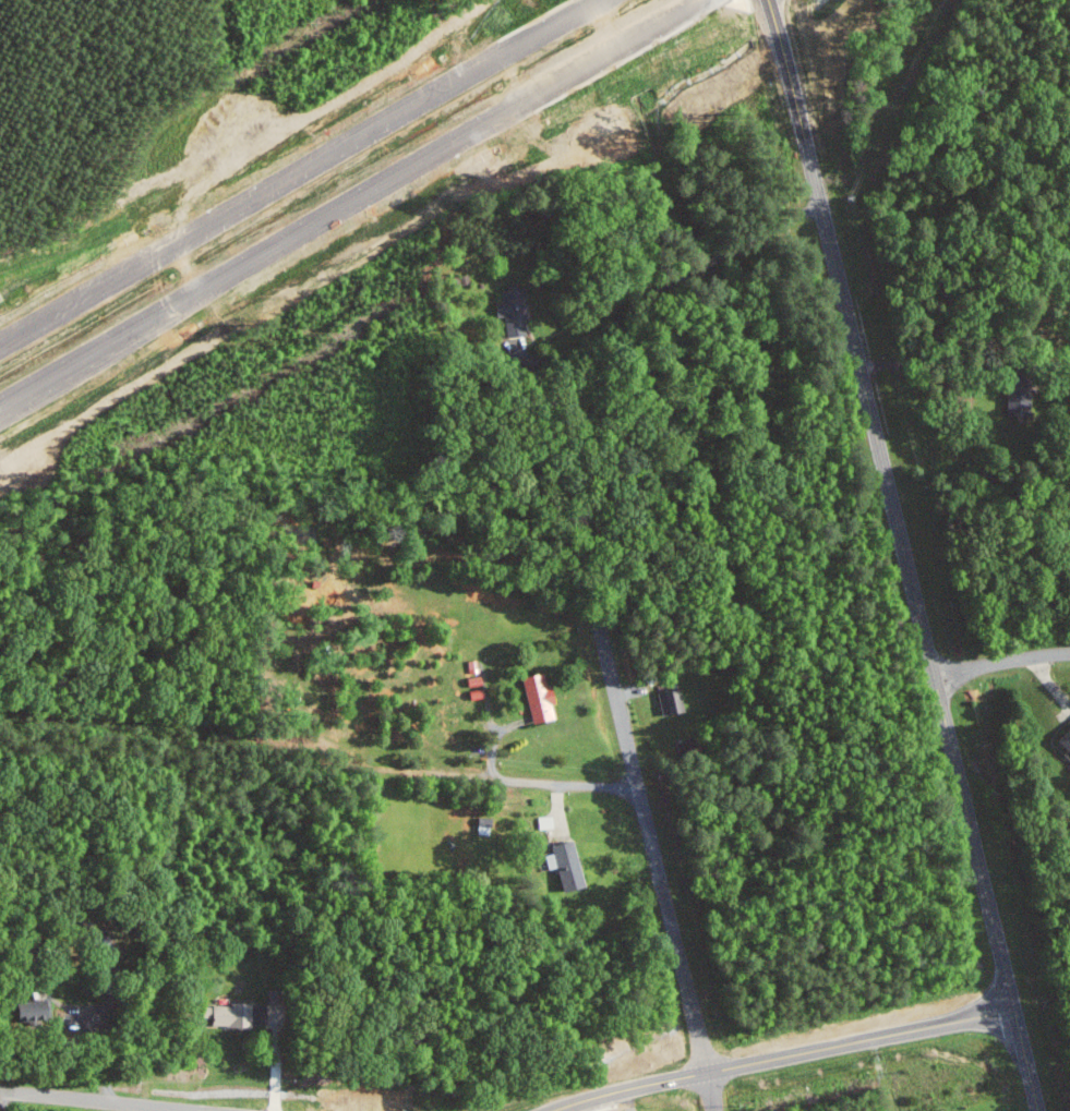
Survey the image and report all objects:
road: (780, 40)
road: (298, 173)
road: (384, 179)
road: (767, 231)
road: (708, 262)
building: (516, 311)
road: (615, 322)
road: (931, 363)
road: (38, 381)
building: (1017, 397)
road: (915, 596)
road: (1001, 662)
building: (542, 698)
building: (669, 702)
building: (1063, 739)
road: (567, 787)
building: (546, 821)
building: (573, 866)
road: (658, 867)
building: (40, 1009)
building: (235, 1014)
road: (107, 1041)
road: (782, 1056)
road: (276, 1058)
road: (94, 1101)

